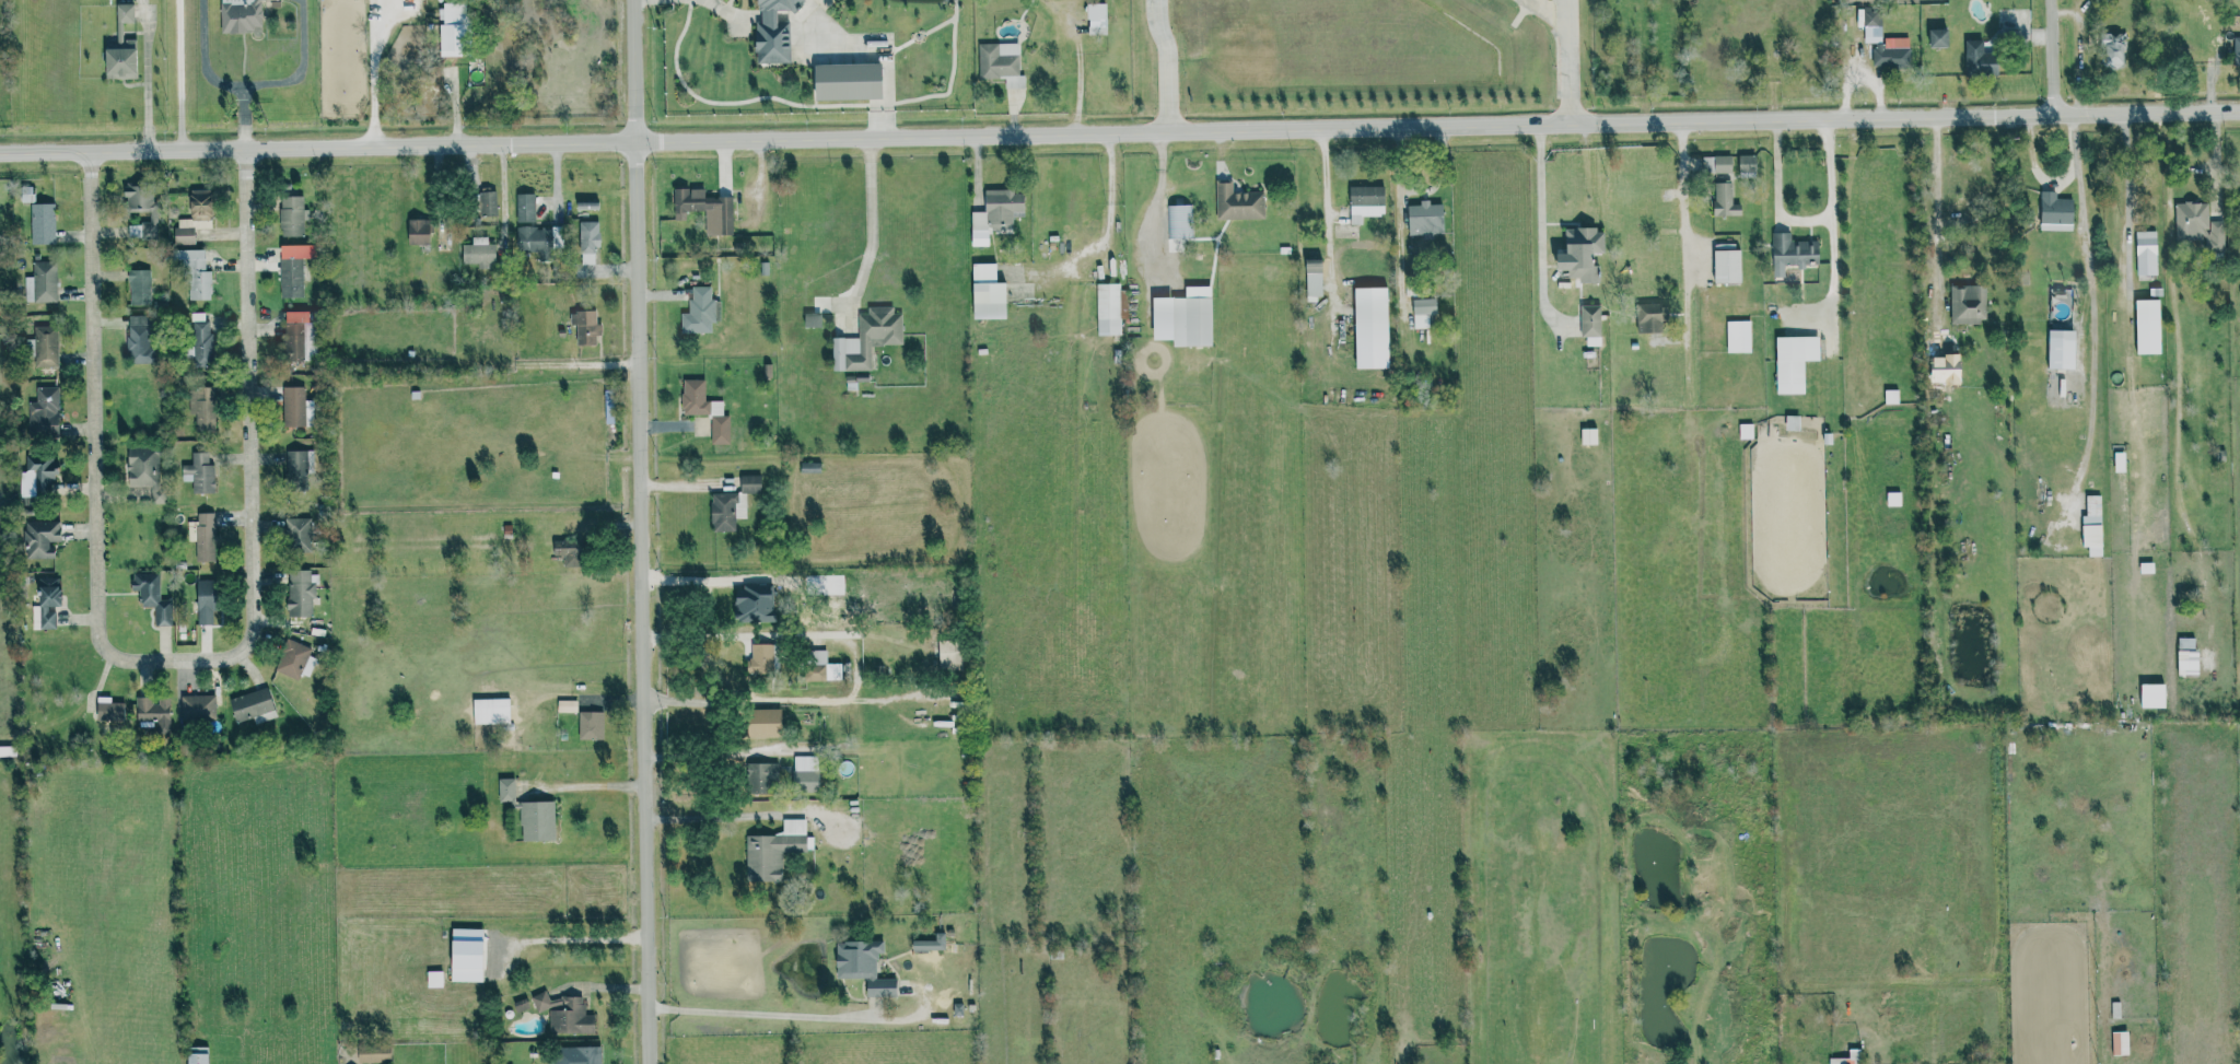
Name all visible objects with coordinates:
road: (719, 8)
road: (1554, 9)
building: (241, 15)
building: (1096, 19)
building: (1872, 23)
building: (451, 30)
building: (772, 32)
building: (1938, 38)
building: (120, 47)
building: (2112, 47)
building: (2237, 50)
building: (1892, 52)
road: (2053, 56)
building: (1979, 59)
road: (1568, 60)
building: (1001, 63)
road: (1165, 63)
road: (301, 66)
road: (376, 71)
road: (177, 74)
road: (147, 79)
road: (215, 81)
building: (847, 81)
road: (1120, 129)
road: (2218, 160)
road: (2124, 163)
building: (1716, 164)
building: (1747, 165)
road: (2035, 167)
road: (1934, 186)
road: (1539, 192)
building: (1725, 200)
building: (487, 201)
building: (1365, 202)
building: (199, 203)
building: (1238, 203)
building: (586, 206)
building: (524, 208)
building: (704, 209)
building: (2055, 212)
building: (152, 215)
building: (291, 215)
building: (994, 215)
road: (870, 218)
building: (1425, 219)
road: (1331, 220)
building: (1180, 221)
road: (1800, 222)
building: (42, 223)
building: (2198, 225)
road: (1683, 227)
building: (183, 231)
building: (418, 232)
building: (556, 236)
building: (530, 239)
building: (587, 241)
building: (478, 253)
building: (1792, 253)
building: (2146, 253)
building: (1580, 254)
building: (1726, 266)
building: (292, 269)
building: (195, 273)
building: (1312, 277)
building: (40, 283)
building: (139, 288)
building: (987, 292)
road: (2093, 299)
building: (1968, 304)
building: (1423, 306)
building: (1110, 308)
building: (700, 311)
building: (1648, 318)
building: (1182, 320)
building: (1590, 320)
building: (2147, 326)
building: (584, 327)
building: (1370, 328)
building: (1738, 336)
building: (297, 338)
building: (139, 339)
building: (867, 339)
building: (199, 340)
building: (43, 347)
building: (2061, 349)
building: (1794, 362)
building: (292, 407)
building: (202, 408)
building: (704, 409)
building: (43, 413)
building: (809, 467)
building: (145, 470)
building: (295, 470)
building: (199, 472)
building: (37, 477)
building: (750, 483)
building: (724, 512)
building: (2092, 526)
road: (646, 531)
building: (297, 535)
building: (203, 537)
building: (39, 538)
building: (568, 553)
building: (300, 594)
building: (152, 597)
building: (45, 603)
building: (207, 603)
building: (752, 605)
road: (704, 638)
building: (948, 654)
road: (167, 657)
building: (760, 657)
building: (2187, 658)
building: (292, 659)
building: (816, 666)
building: (2152, 695)
road: (793, 700)
building: (567, 705)
building: (253, 706)
building: (198, 709)
building: (108, 710)
building: (490, 711)
building: (154, 713)
building: (762, 723)
building: (591, 725)
road: (701, 756)
building: (805, 774)
building: (761, 777)
building: (505, 790)
road: (602, 790)
road: (722, 817)
building: (537, 821)
building: (773, 851)
road: (592, 943)
building: (930, 943)
building: (863, 966)
building: (465, 973)
building: (434, 979)
road: (604, 986)
road: (765, 1013)
building: (564, 1014)
building: (2120, 1043)
building: (373, 1053)
building: (197, 1055)
building: (576, 1055)
building: (1848, 1057)

